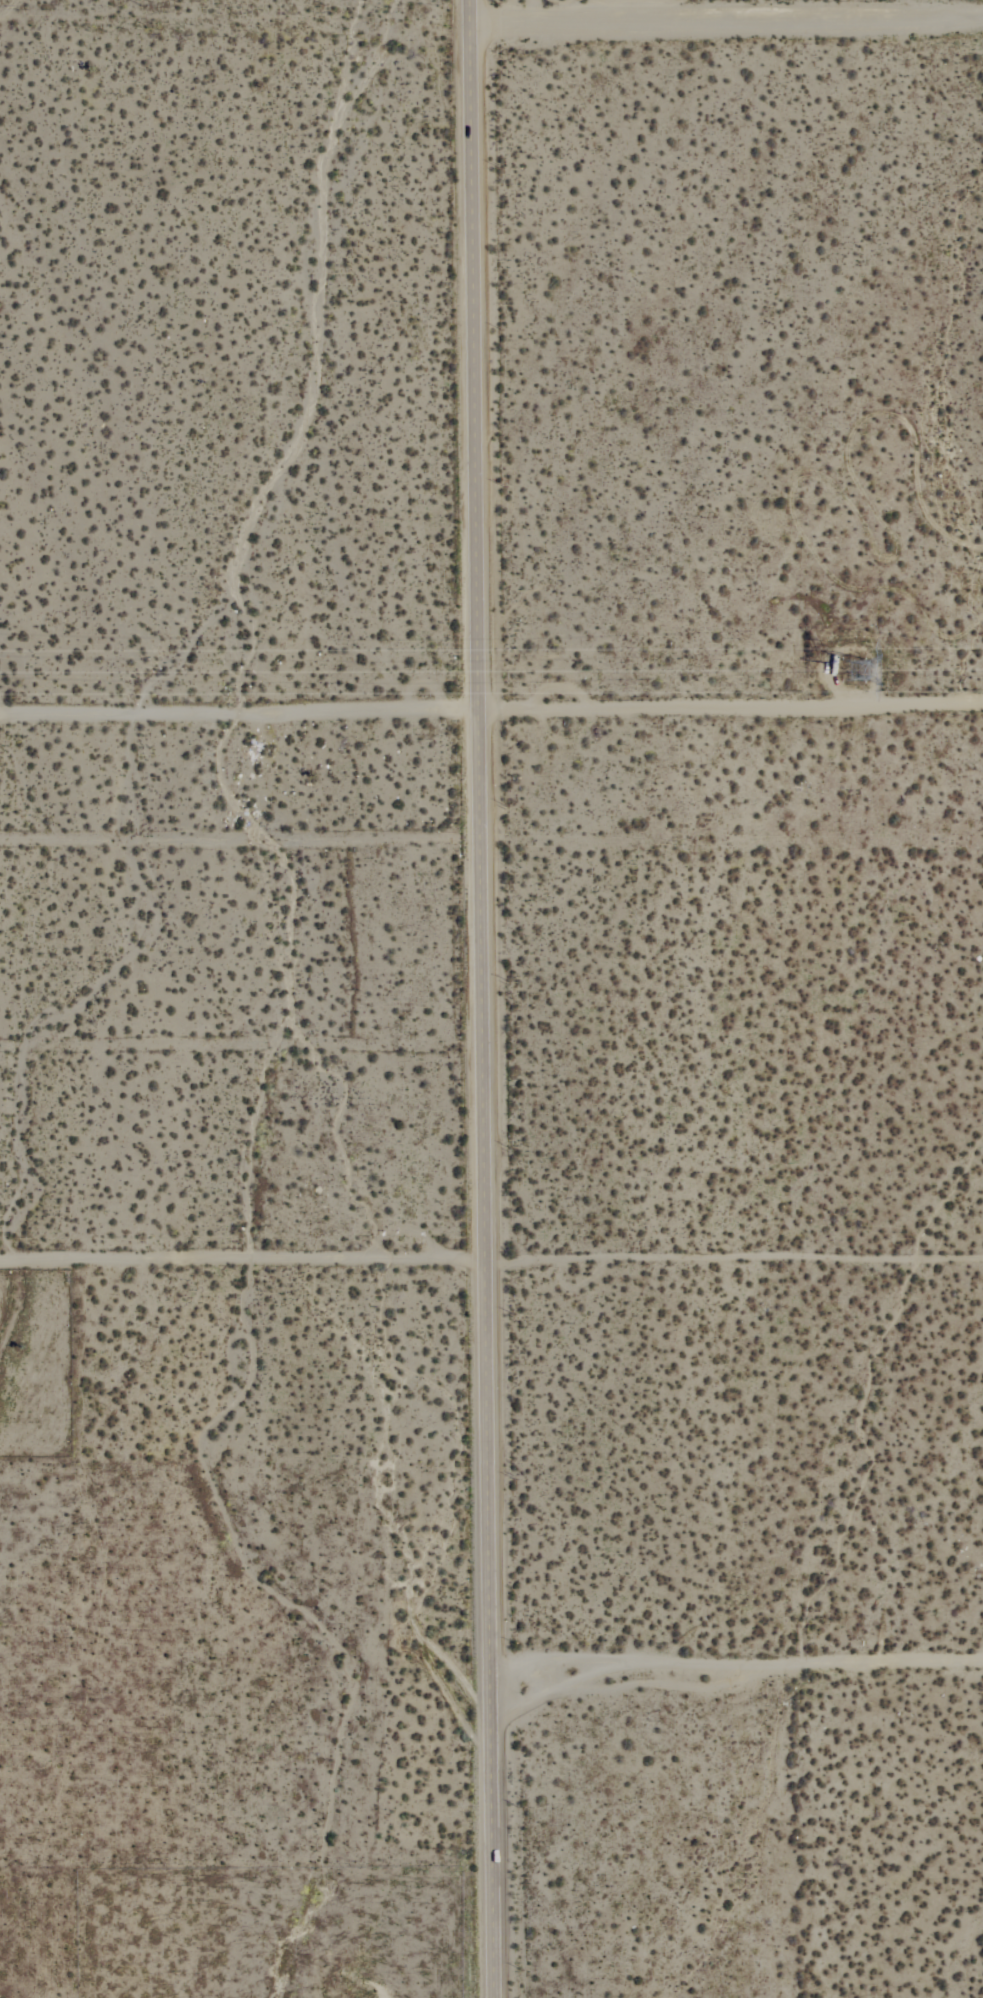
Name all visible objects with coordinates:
road: (733, 32)
power tower: (861, 673)
road: (733, 713)
road: (241, 715)
road: (483, 999)
road: (732, 1254)
road: (241, 1262)
road: (741, 1662)

